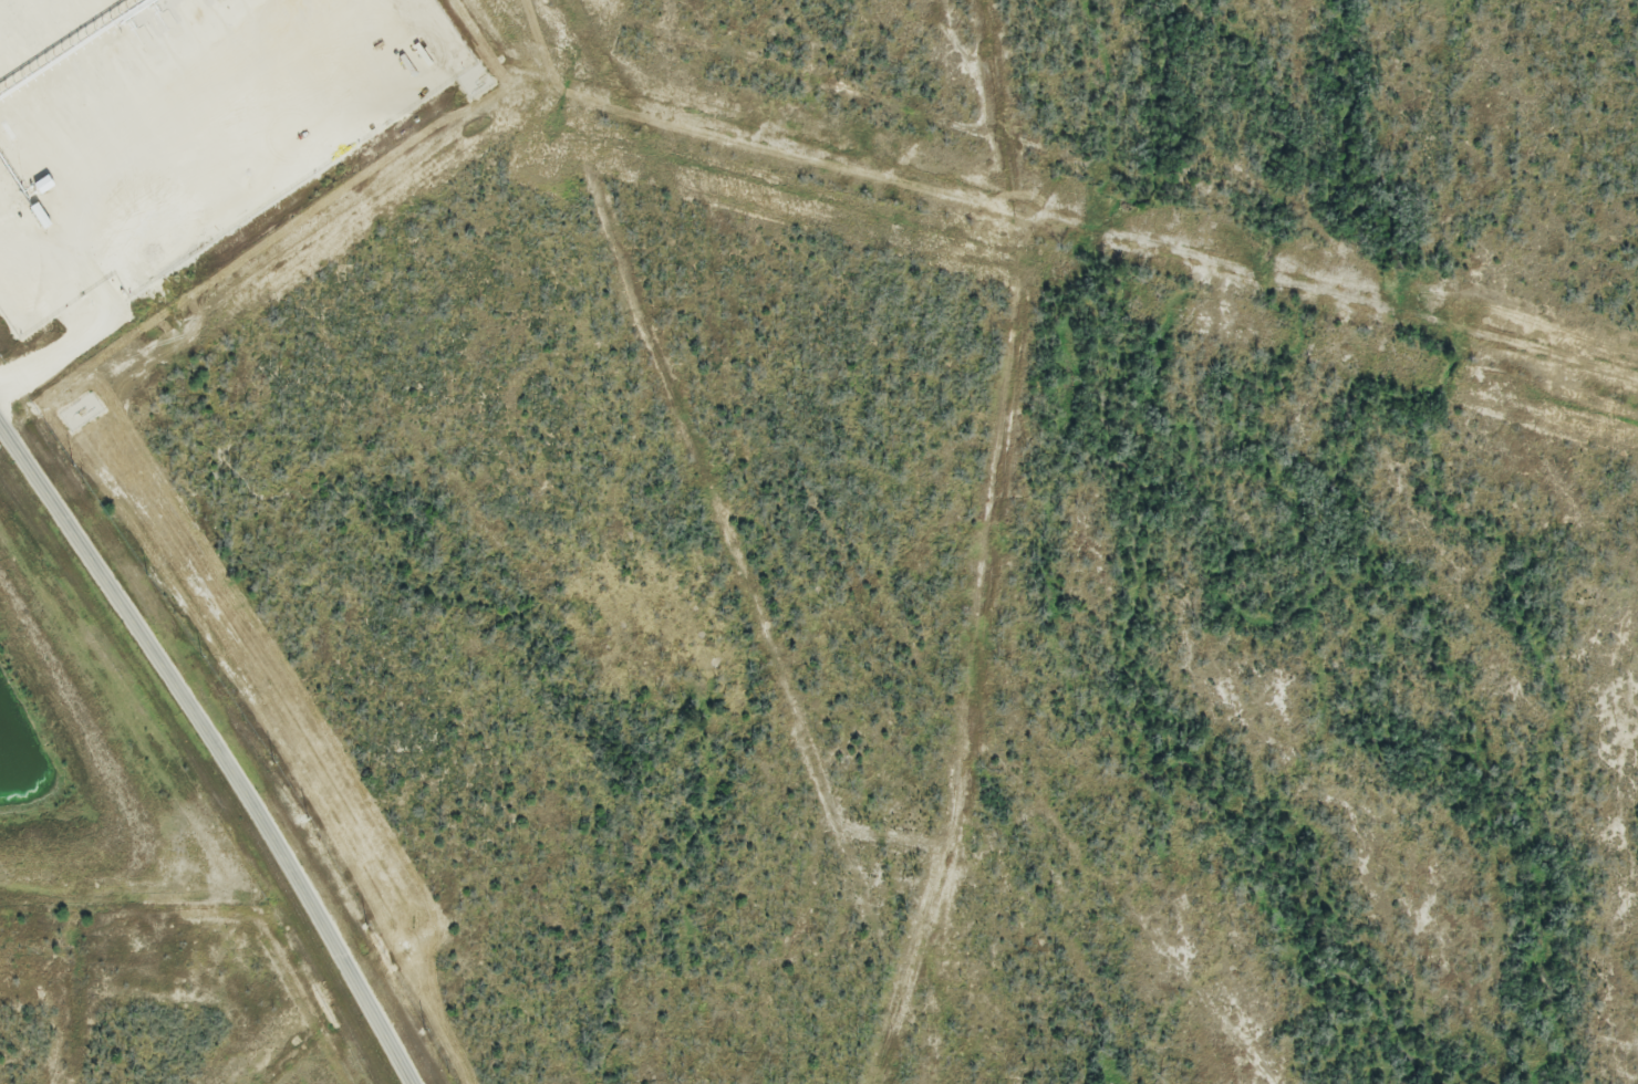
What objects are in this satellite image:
road: (185, 236)
road: (215, 748)

